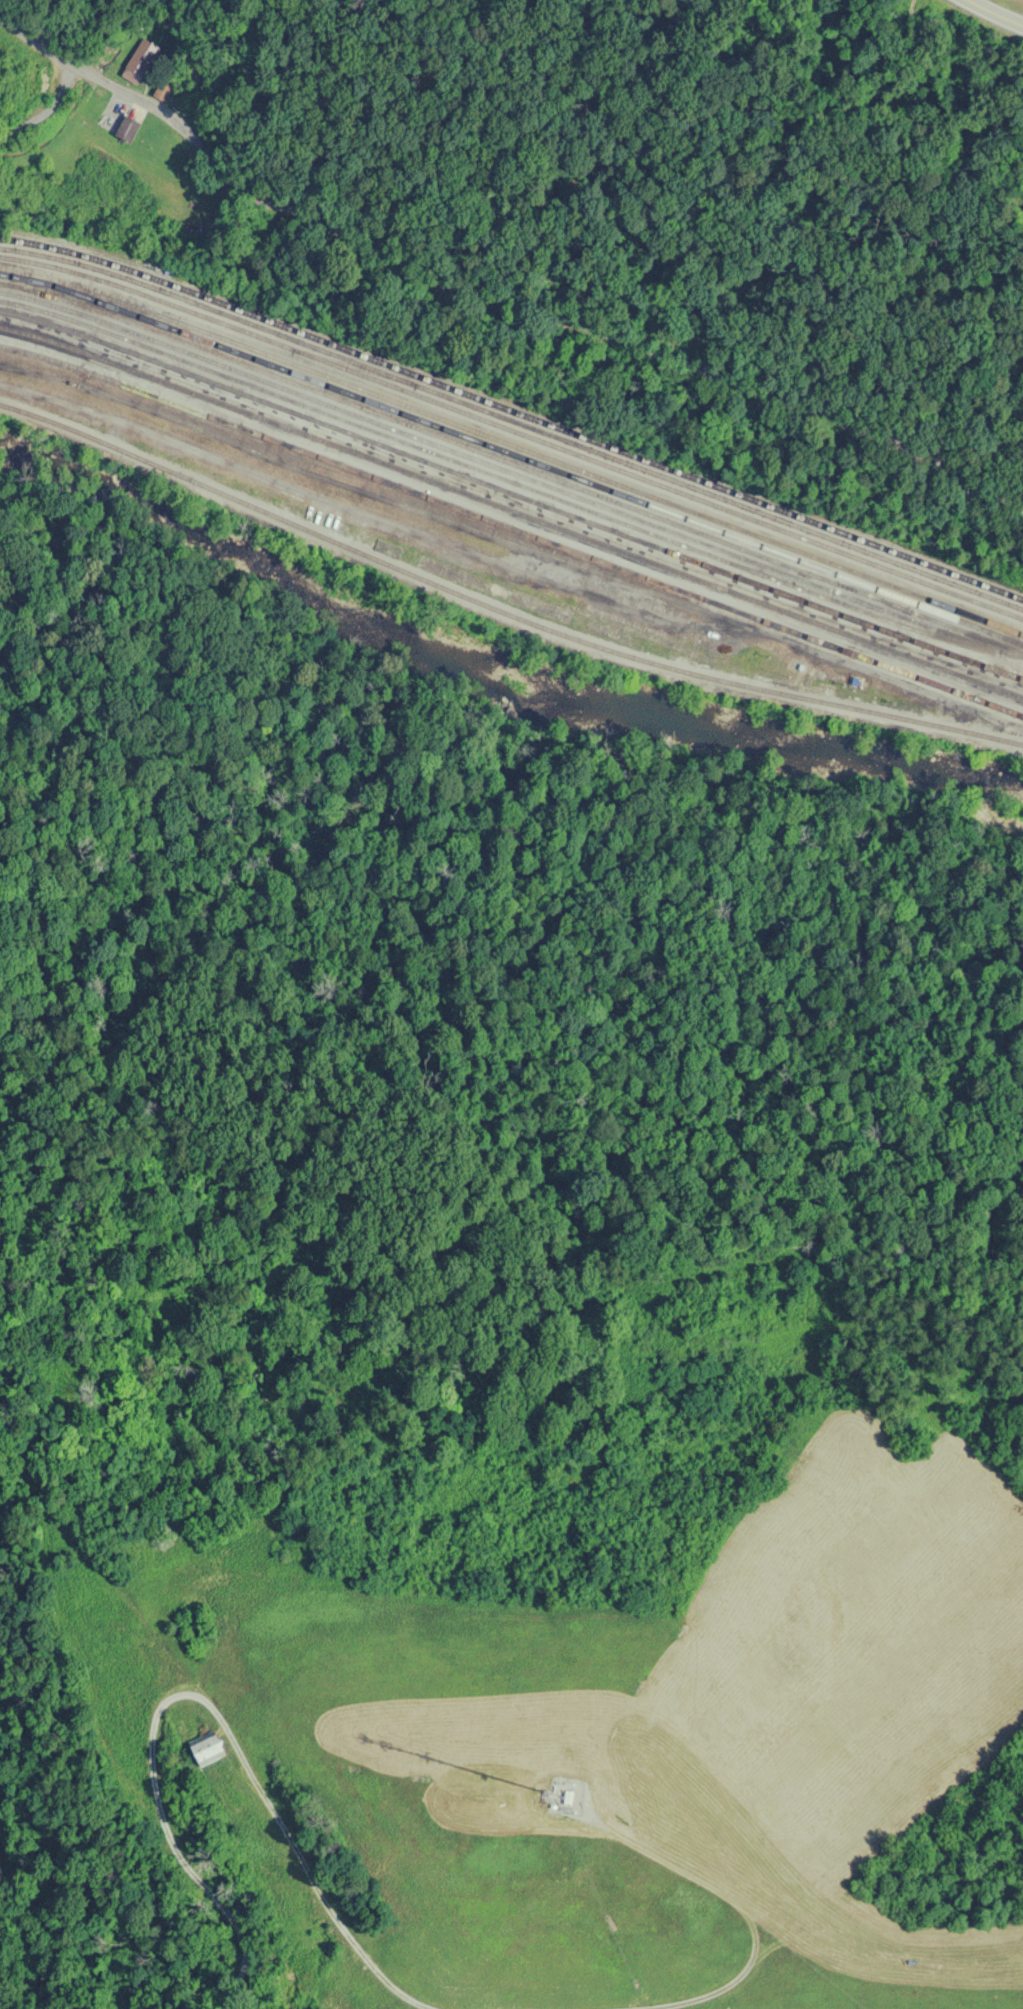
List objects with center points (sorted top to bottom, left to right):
road: (1001, 9)
building: (141, 59)
road: (91, 71)
building: (129, 126)
road: (357, 238)
railway: (6, 275)
road: (793, 402)
railway: (513, 409)
railway: (513, 422)
railway: (513, 430)
railway: (364, 439)
railway: (514, 443)
road: (977, 453)
railway: (453, 459)
railway: (513, 463)
railway: (490, 464)
railway: (539, 466)
railway: (512, 510)
railway: (511, 529)
railway: (499, 611)
railway: (875, 625)
railway: (963, 641)
river: (500, 670)
building: (208, 1747)

